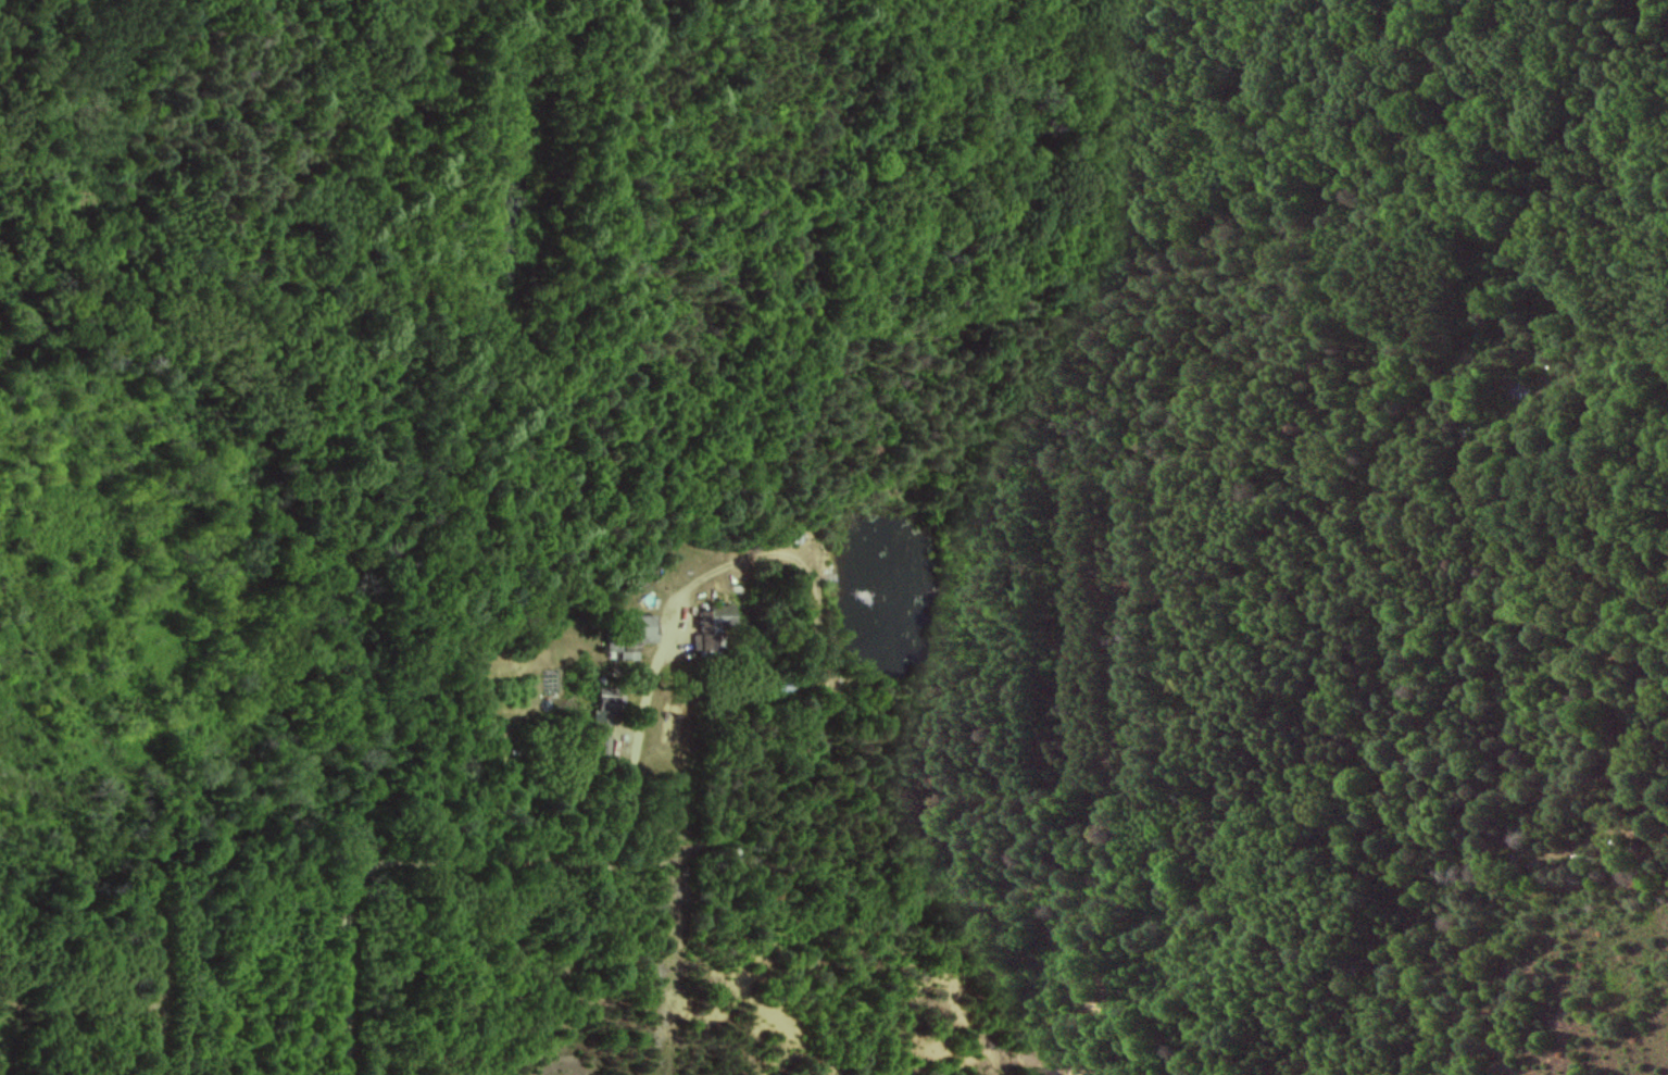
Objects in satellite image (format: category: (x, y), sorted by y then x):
road: (808, 570)
building: (711, 625)
building: (644, 626)
building: (606, 702)
road: (380, 862)

